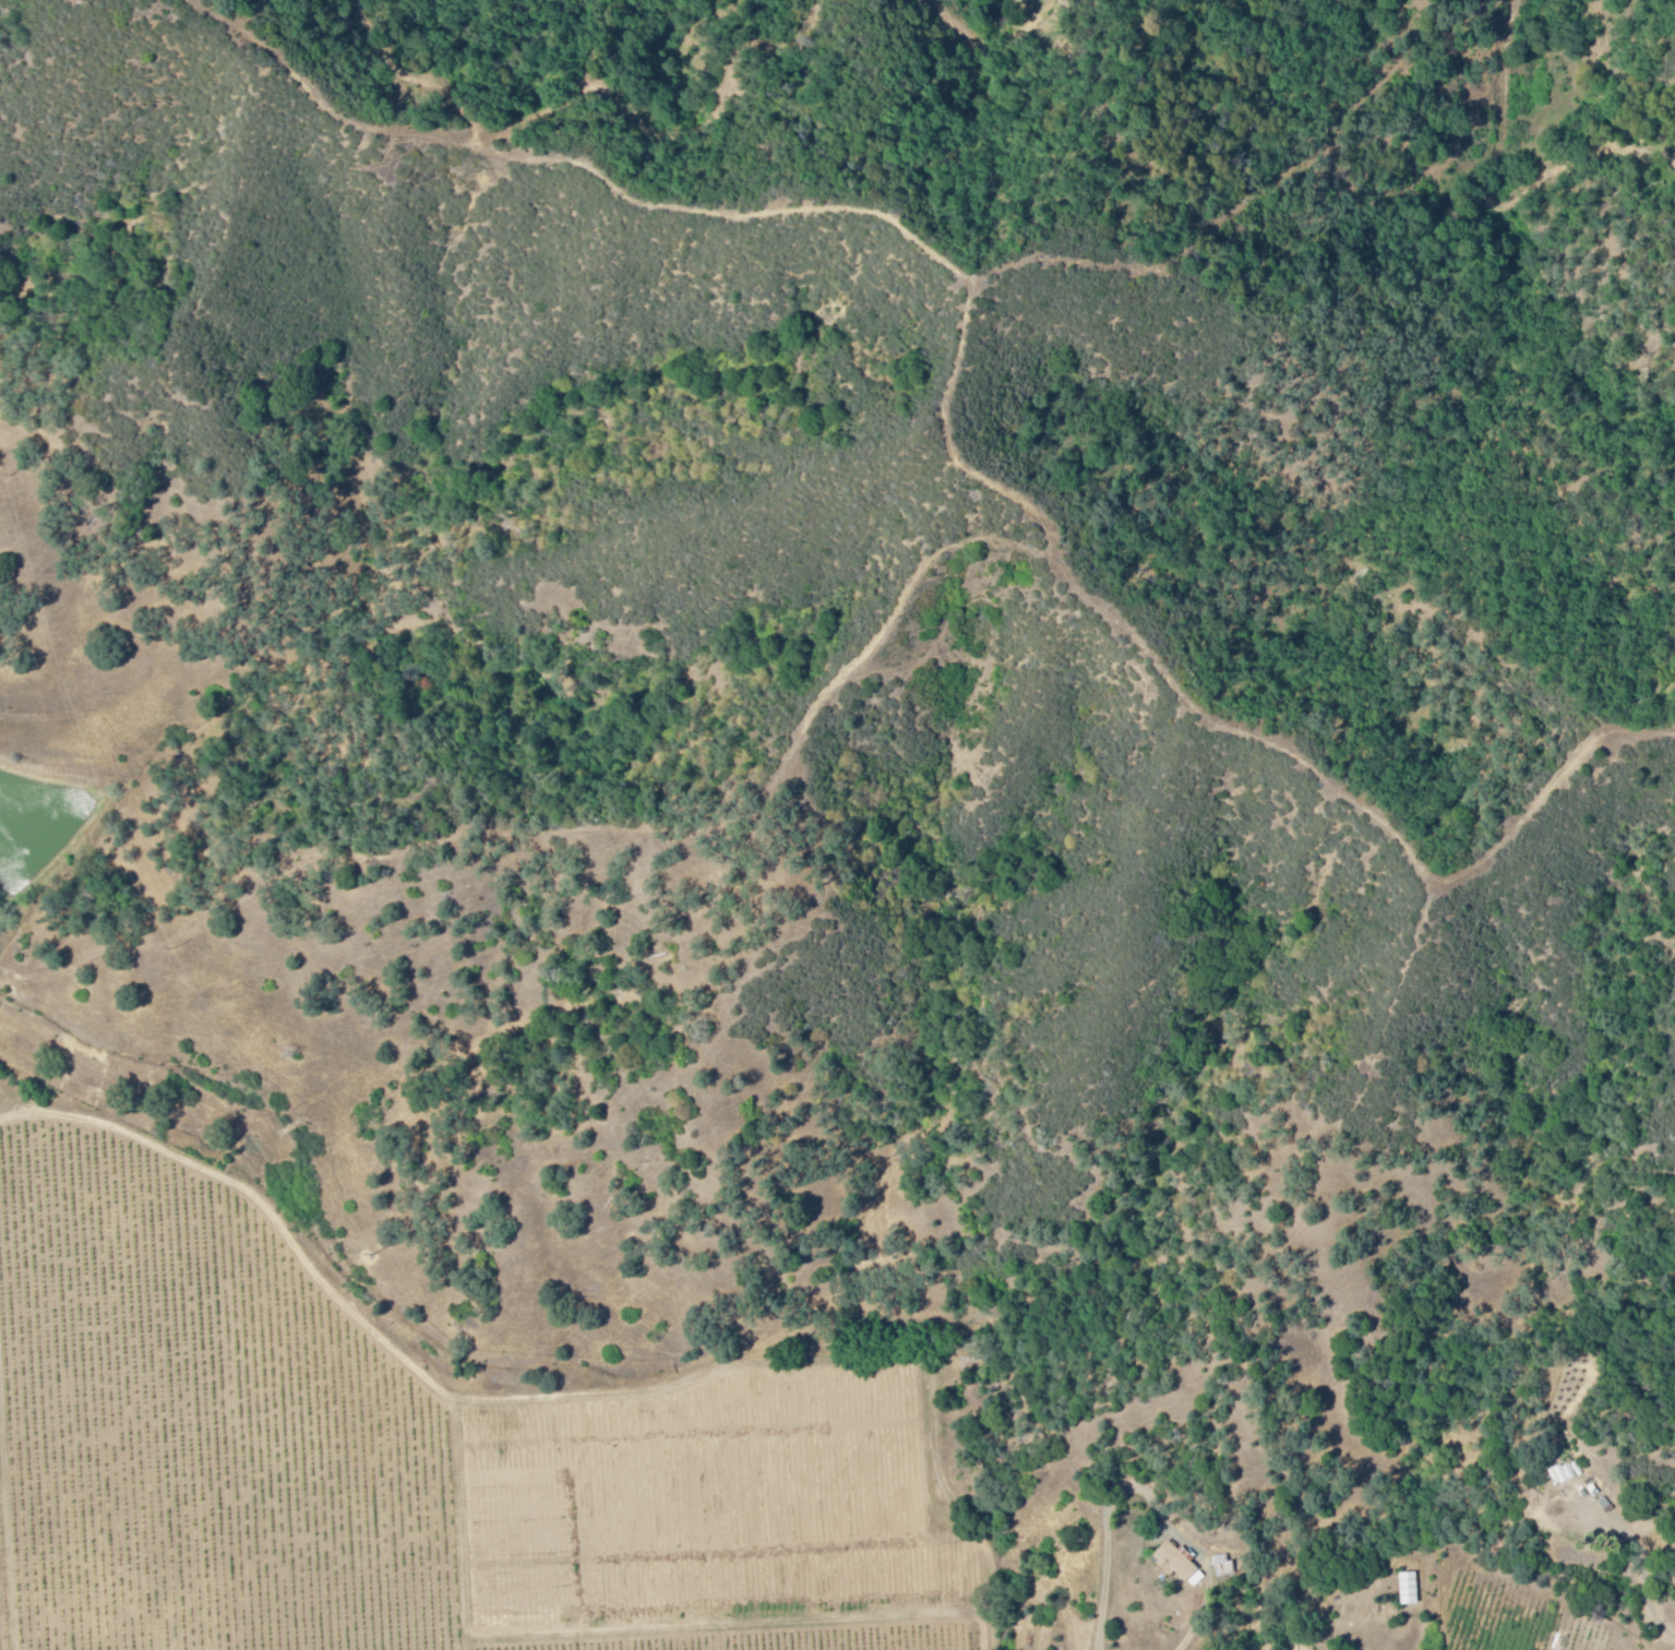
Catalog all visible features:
building: (1176, 1564)
building: (1410, 1591)
road: (1106, 1600)
road: (1653, 1600)

